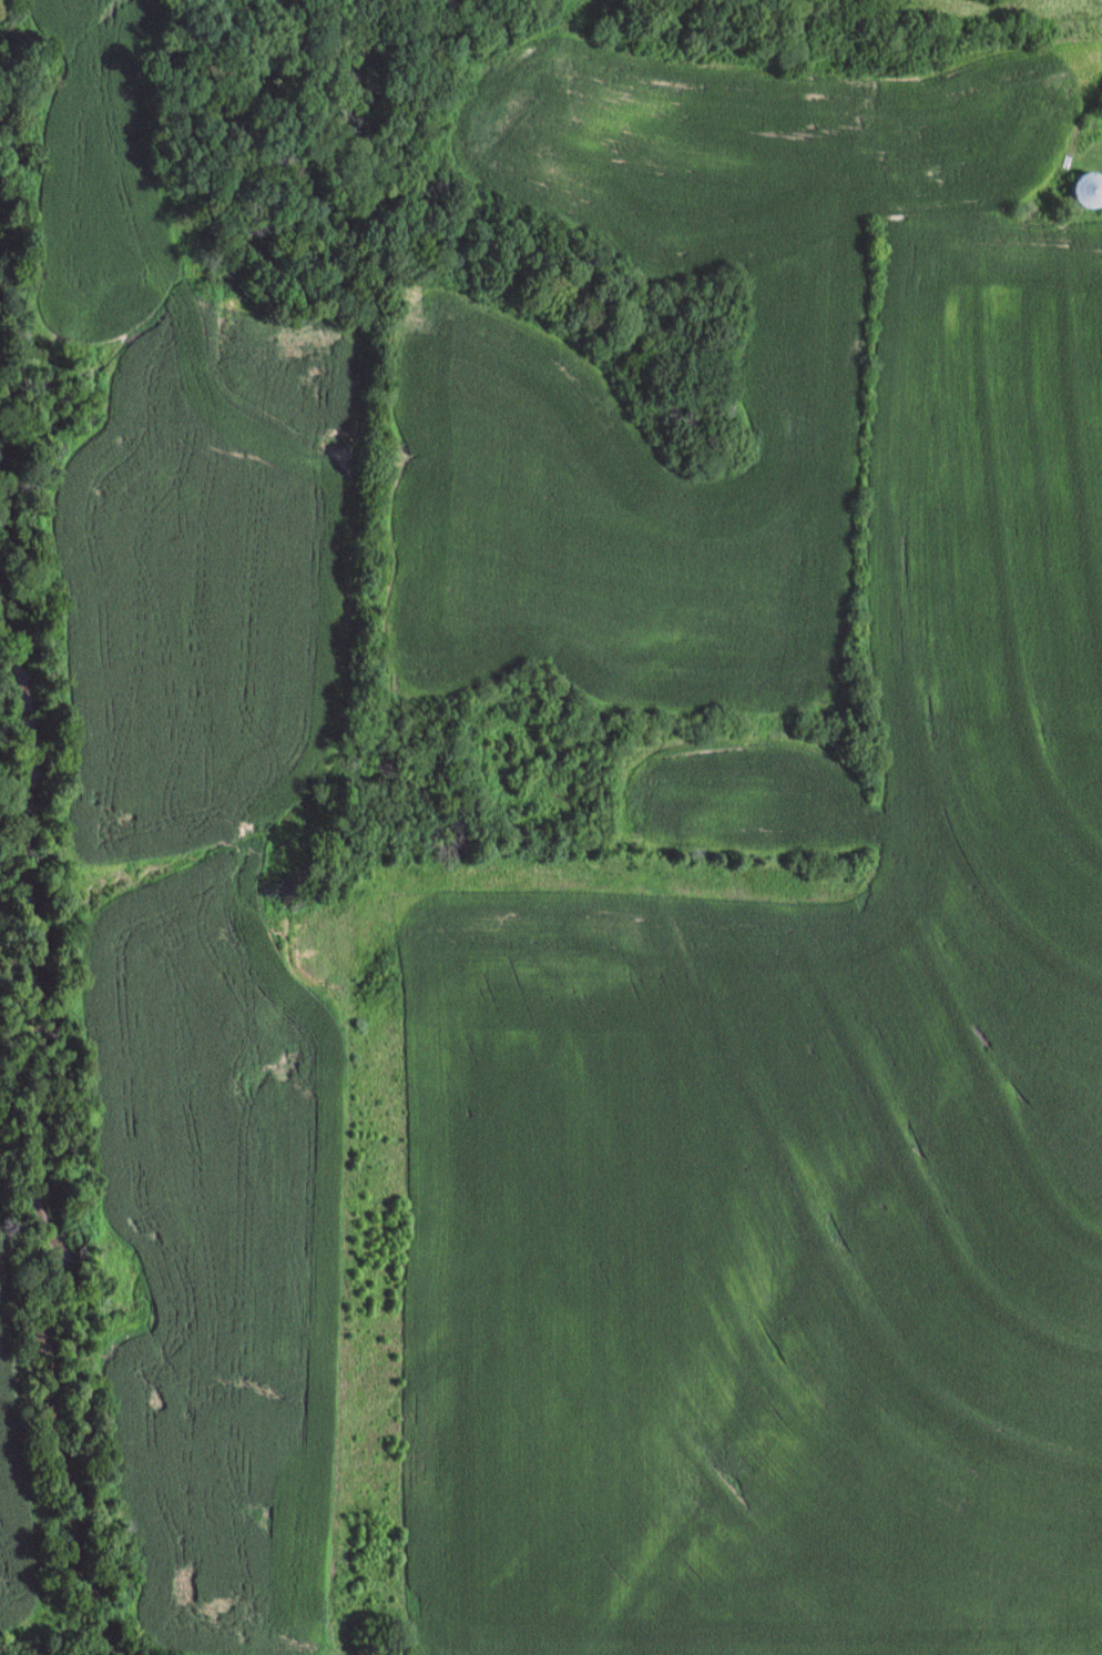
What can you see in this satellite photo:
building: (1083, 191)
road: (1092, 214)

